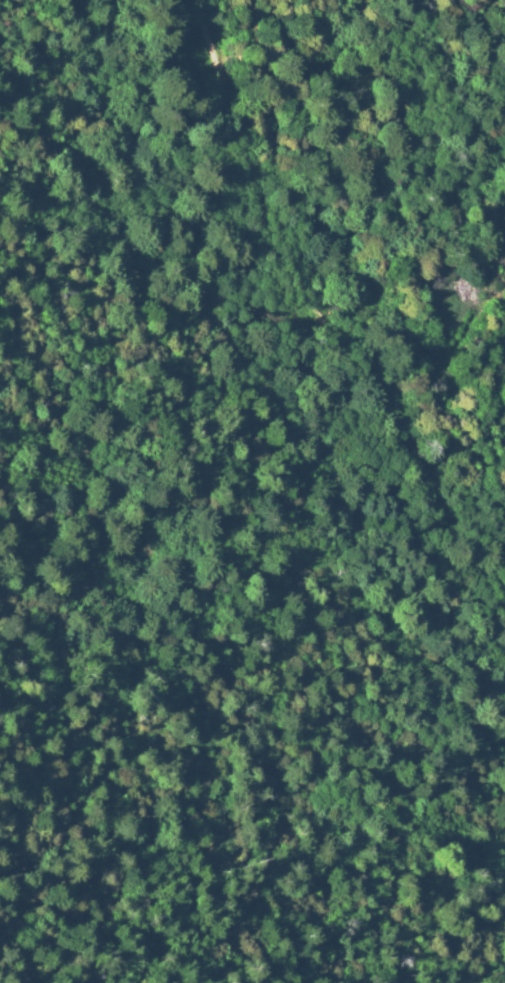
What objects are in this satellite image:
road: (210, 29)
road: (292, 284)

